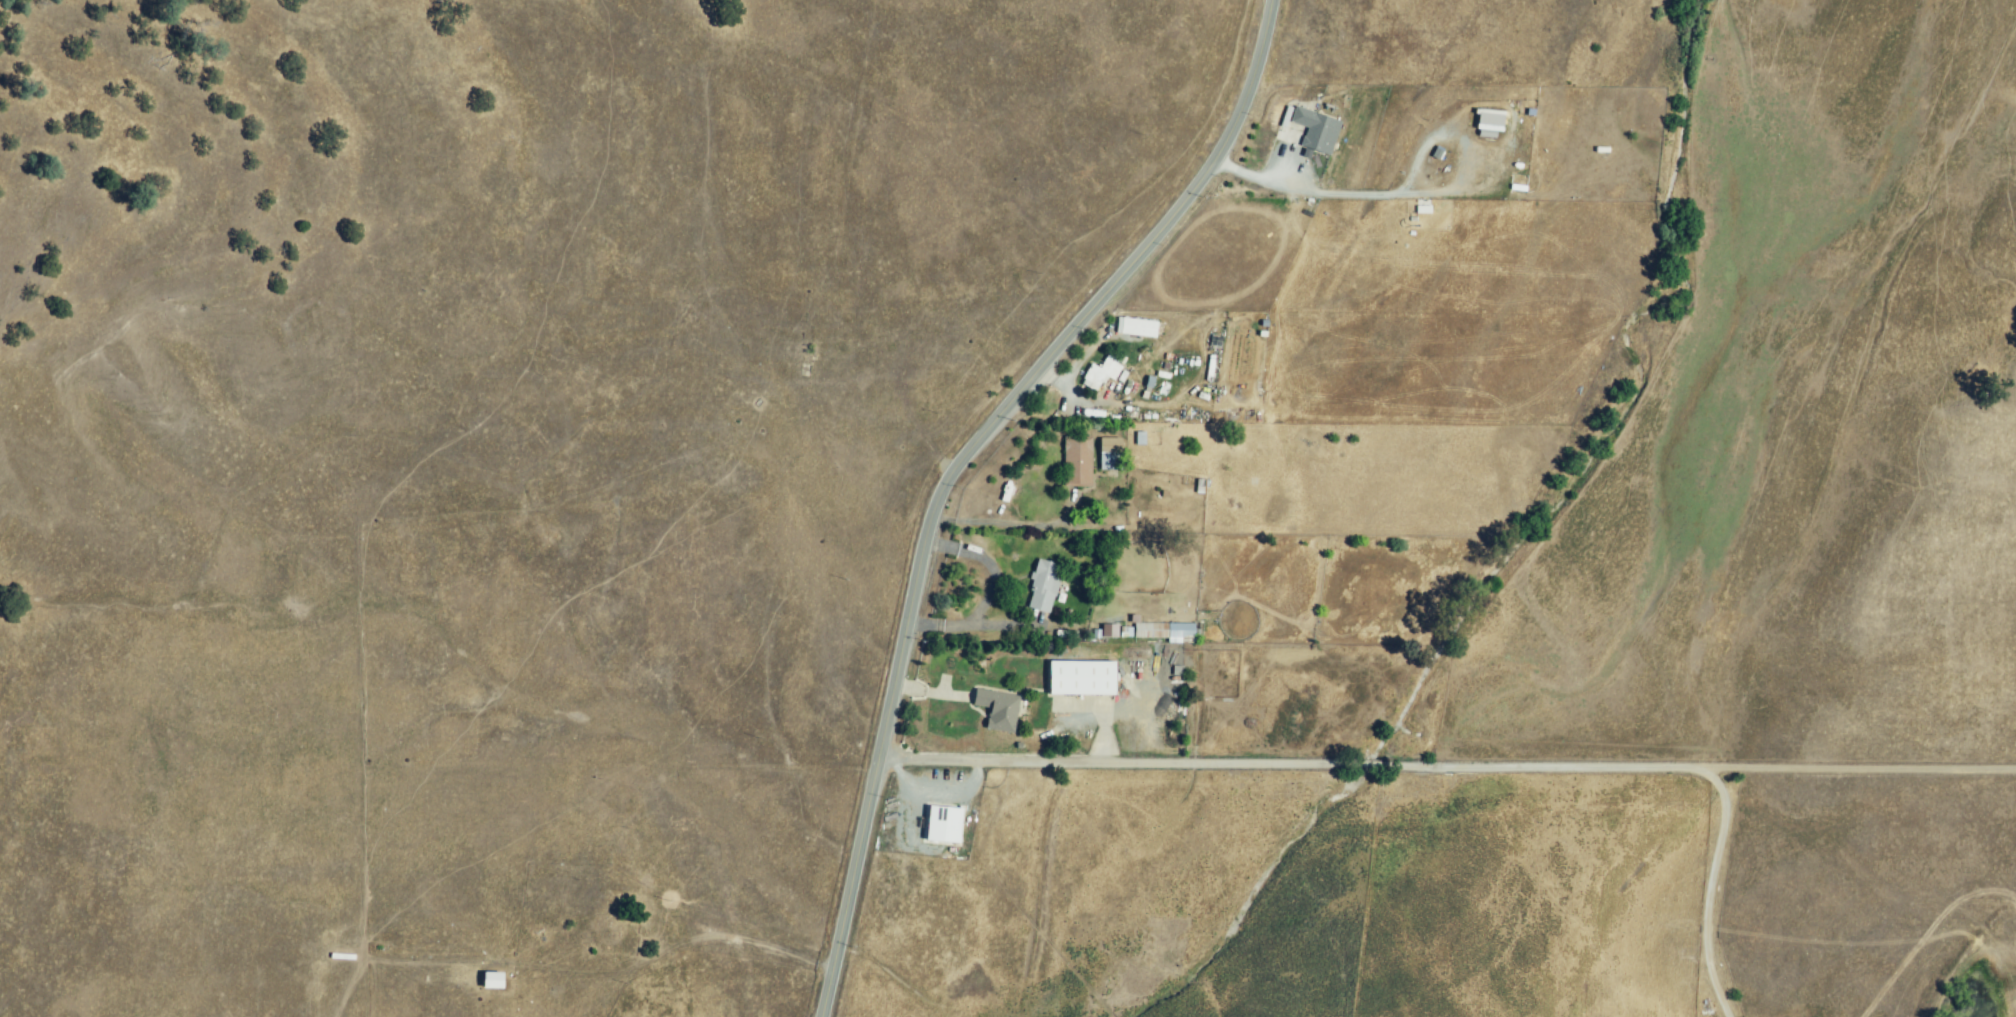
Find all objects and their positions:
building: (1490, 123)
building: (1319, 131)
road: (1406, 193)
building: (1137, 328)
building: (1100, 374)
building: (1111, 454)
building: (1078, 462)
road: (958, 465)
road: (1002, 522)
building: (1044, 587)
road: (991, 592)
building: (1111, 631)
building: (1165, 632)
building: (1083, 679)
building: (999, 710)
road: (1420, 766)
building: (945, 825)
building: (494, 982)

